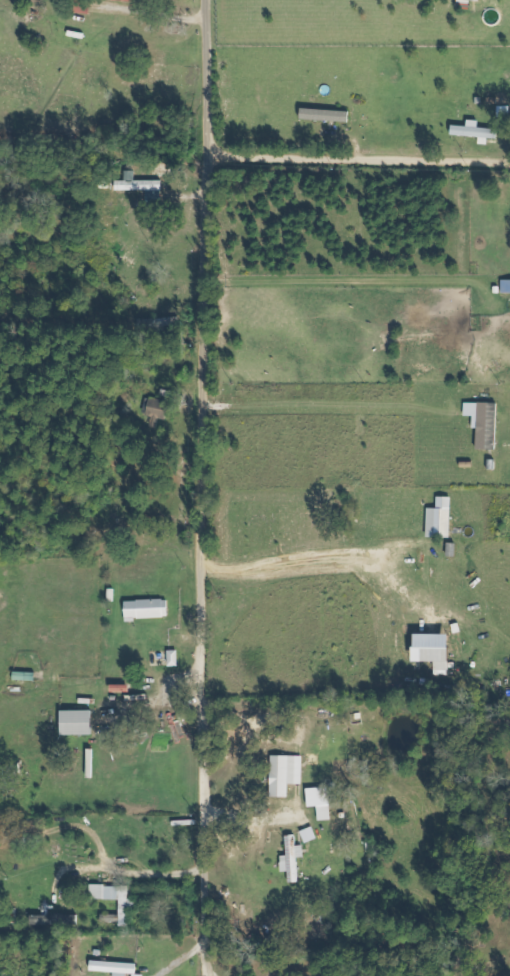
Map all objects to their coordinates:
building: (476, 0)
building: (326, 115)
building: (476, 131)
road: (357, 158)
building: (506, 286)
building: (485, 423)
road: (198, 488)
building: (441, 519)
building: (148, 609)
building: (432, 650)
building: (77, 723)
building: (286, 774)
building: (326, 813)
building: (293, 859)
building: (117, 968)

